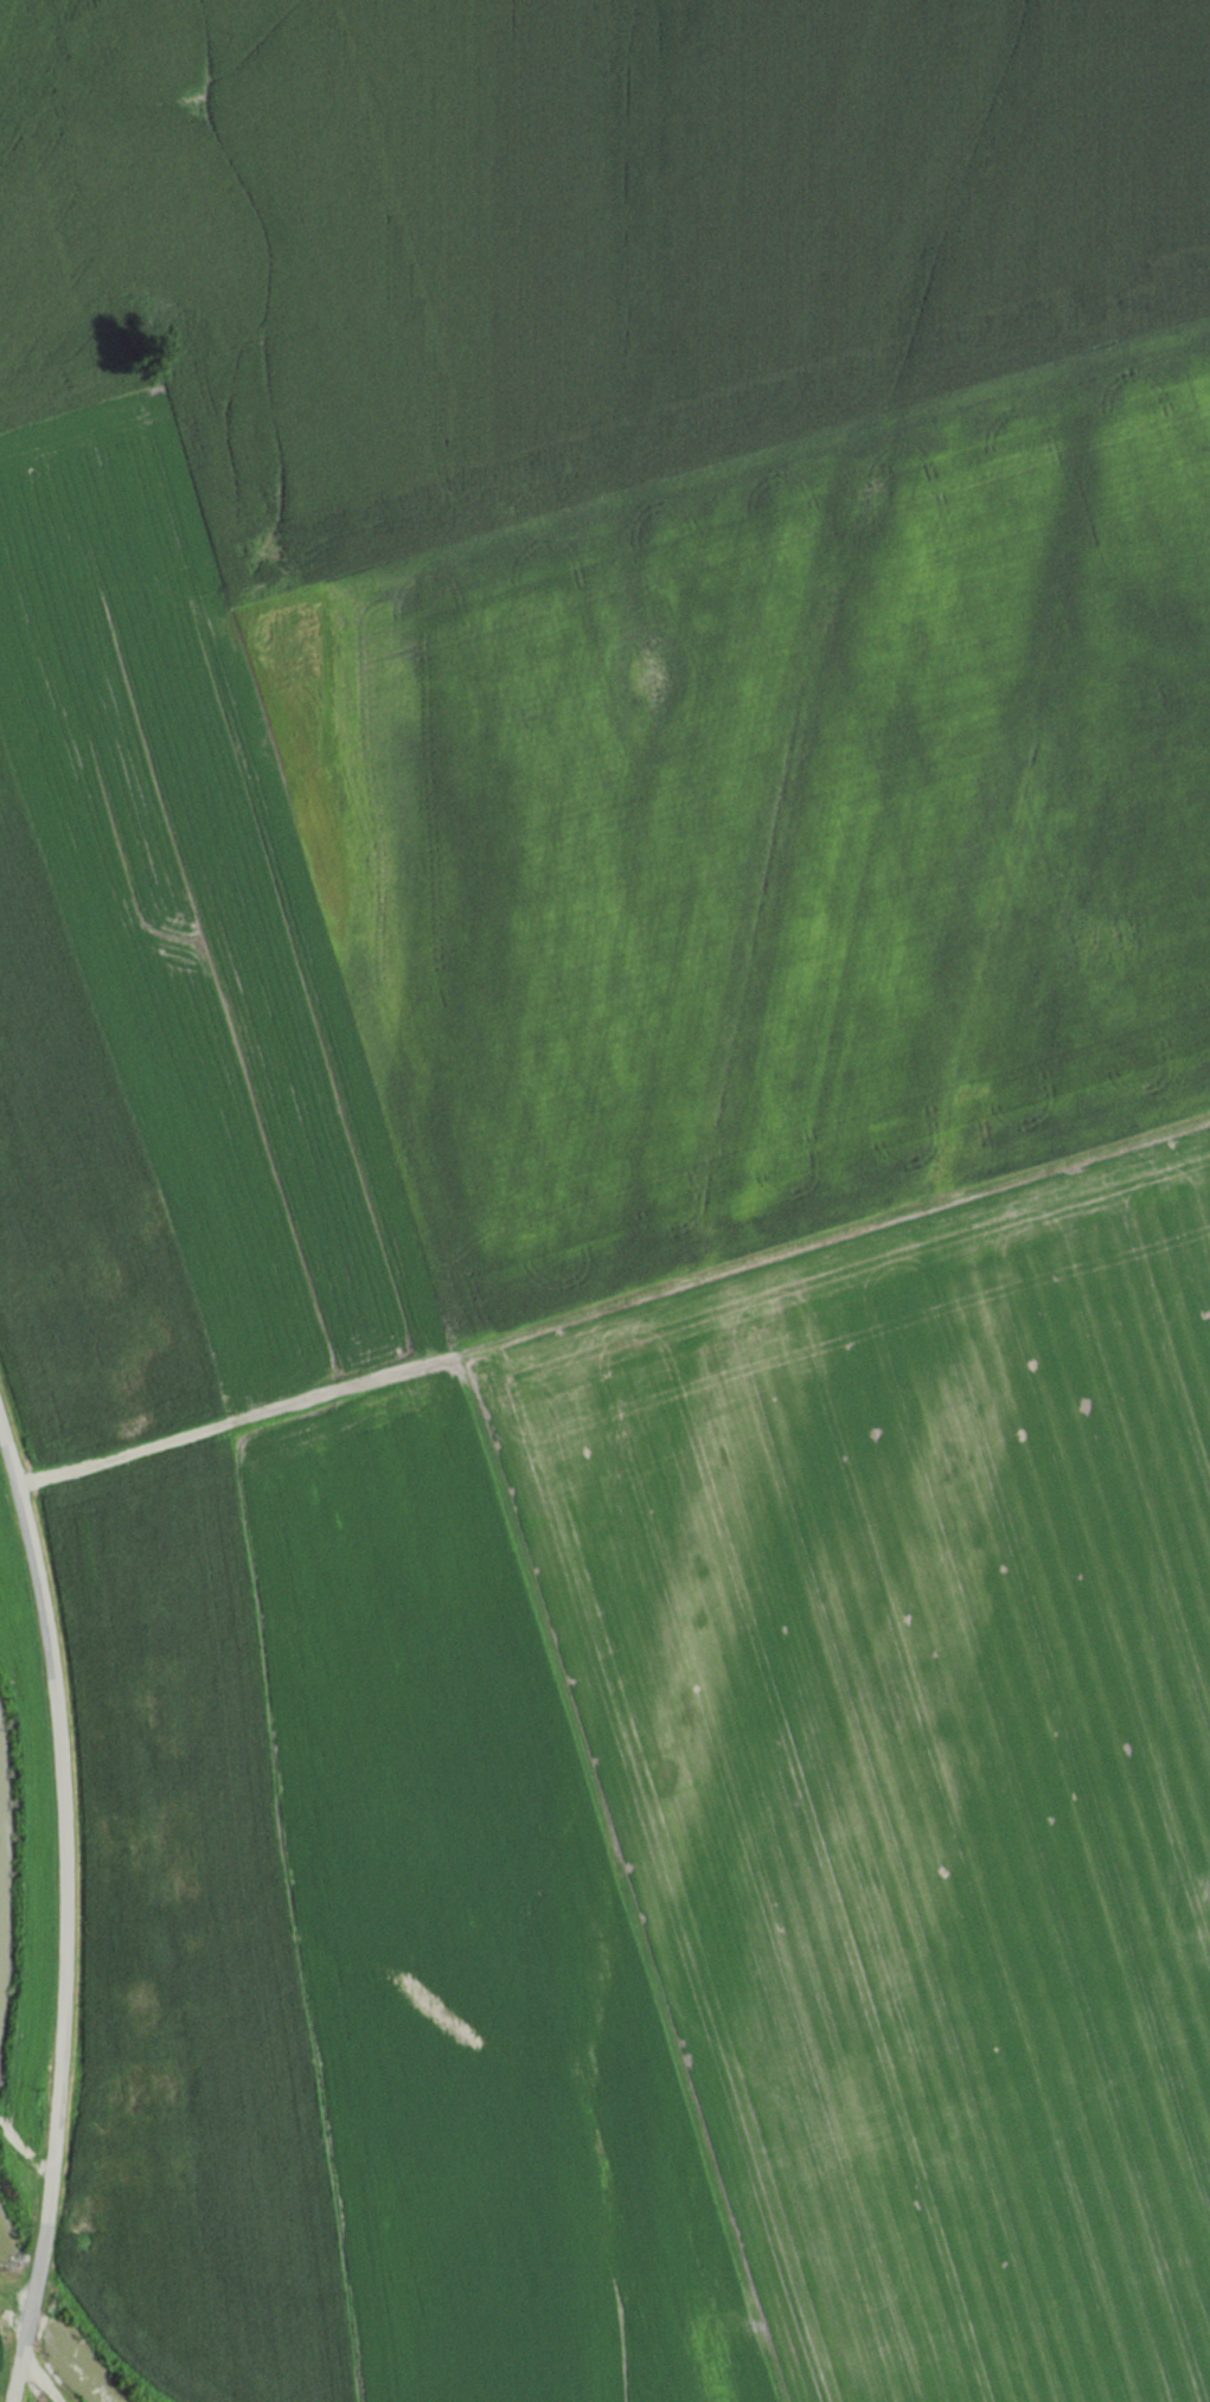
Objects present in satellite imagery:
road: (613, 1301)
road: (617, 1876)
road: (63, 1913)
road: (23, 2147)

